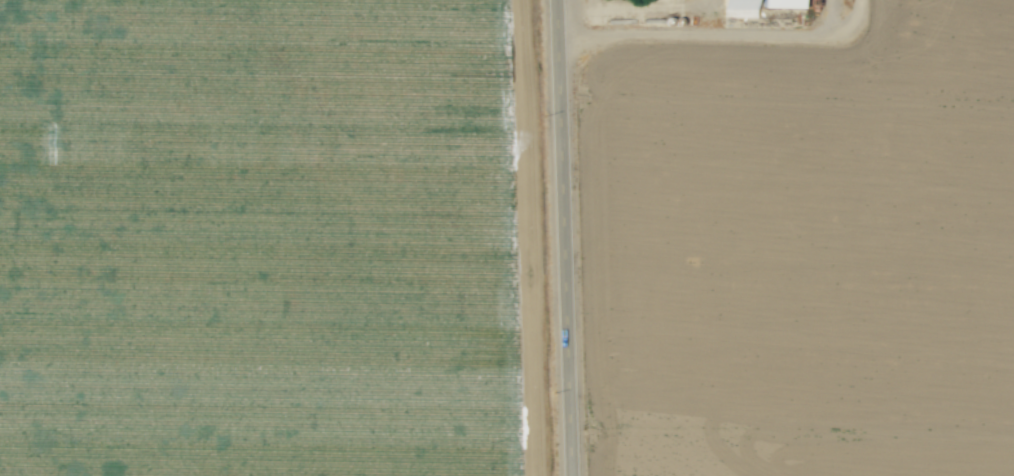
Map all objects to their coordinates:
building: (759, 6)
road: (710, 39)
road: (565, 238)

